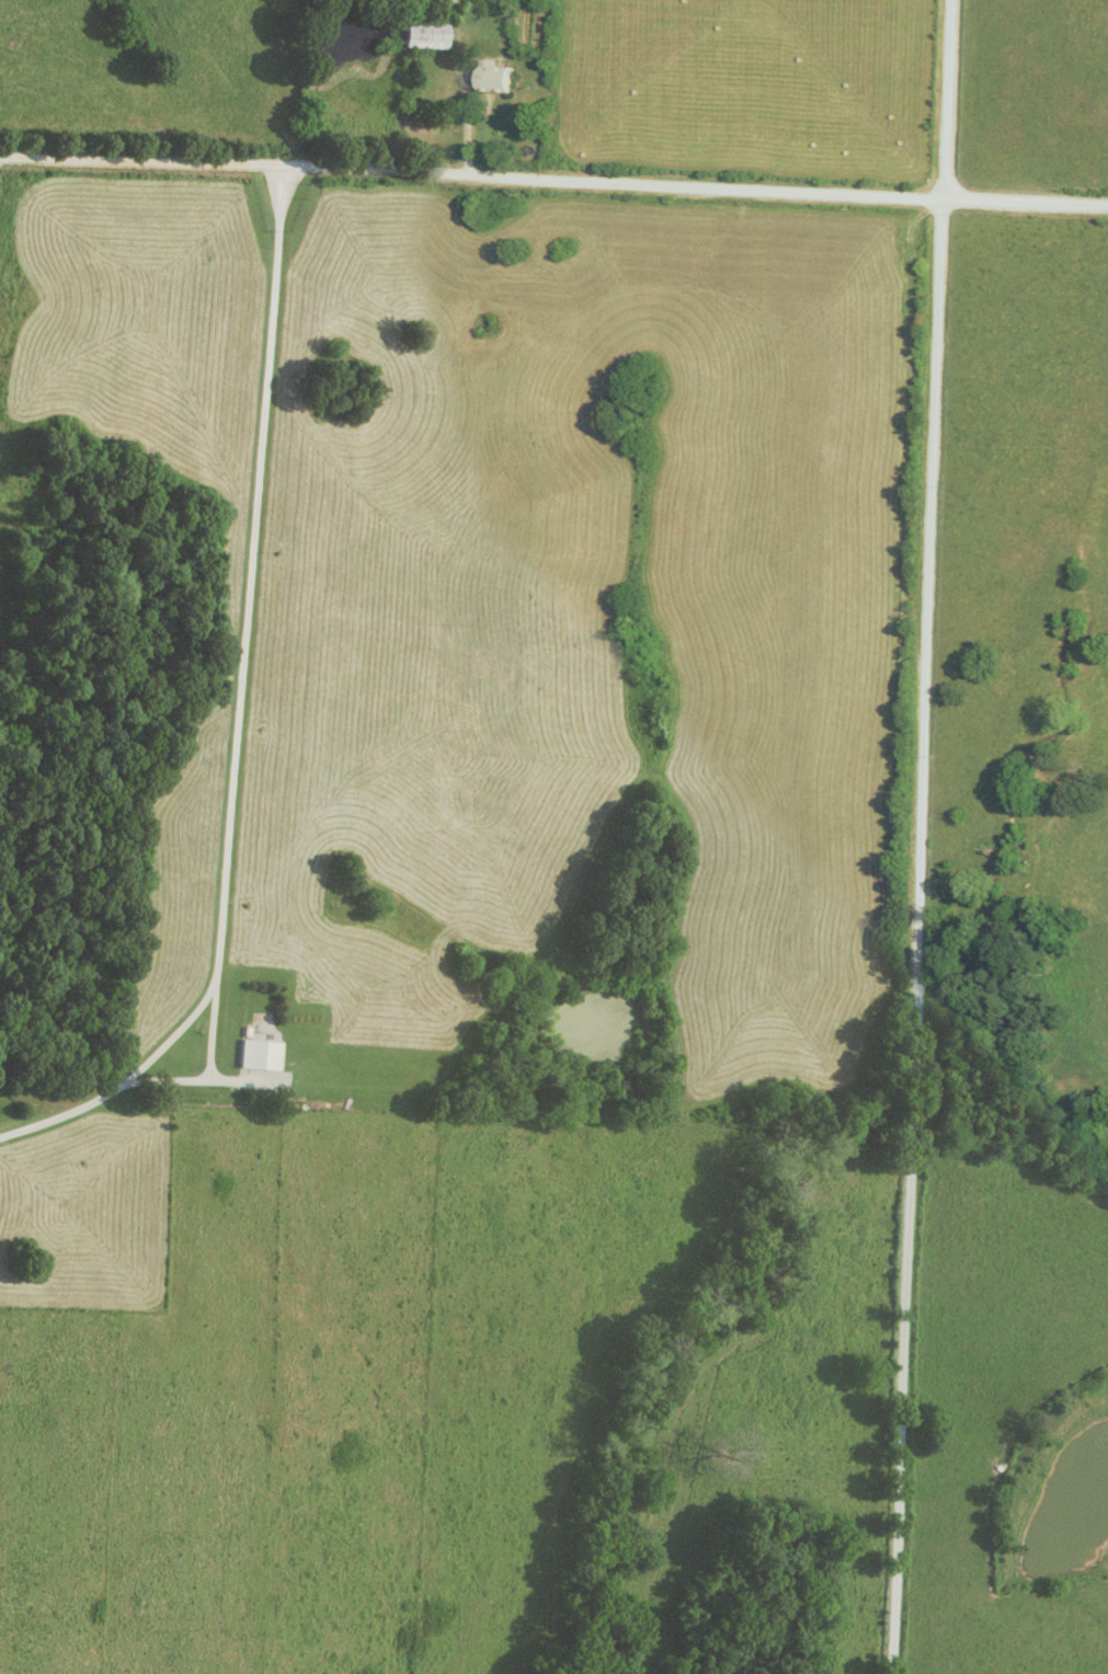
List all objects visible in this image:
building: (427, 37)
building: (504, 76)
road: (467, 115)
road: (553, 177)
road: (235, 736)
road: (917, 836)
building: (263, 1056)
road: (62, 1116)

